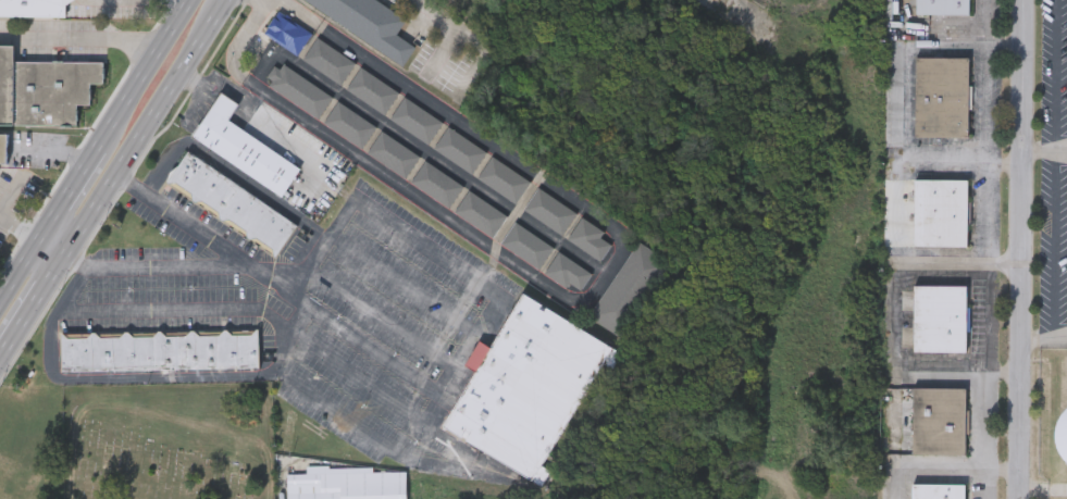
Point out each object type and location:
building: (702, 3)
building: (941, 7)
building: (33, 8)
road: (981, 21)
building: (368, 24)
building: (286, 33)
road: (84, 37)
road: (238, 38)
road: (470, 40)
road: (1003, 41)
building: (327, 61)
road: (141, 78)
building: (45, 89)
building: (298, 90)
building: (371, 90)
building: (941, 97)
road: (988, 101)
building: (415, 120)
building: (348, 124)
road: (146, 127)
building: (243, 147)
building: (2, 148)
building: (459, 151)
road: (1037, 152)
road: (1062, 152)
building: (393, 154)
road: (1003, 162)
road: (228, 167)
building: (501, 179)
building: (436, 185)
road: (1055, 188)
road: (12, 191)
road: (66, 197)
building: (229, 202)
building: (548, 211)
building: (940, 213)
building: (479, 214)
road: (21, 223)
building: (588, 239)
road: (53, 246)
building: (525, 246)
road: (1016, 249)
road: (1003, 263)
road: (165, 265)
road: (612, 266)
road: (21, 270)
building: (566, 270)
building: (629, 288)
road: (33, 305)
road: (176, 309)
building: (939, 319)
road: (290, 328)
road: (991, 329)
road: (1060, 337)
building: (159, 351)
road: (1003, 372)
building: (526, 386)
road: (433, 416)
building: (938, 422)
building: (1065, 434)
park: (170, 441)
road: (929, 469)
road: (1002, 469)
building: (348, 485)
building: (936, 491)

